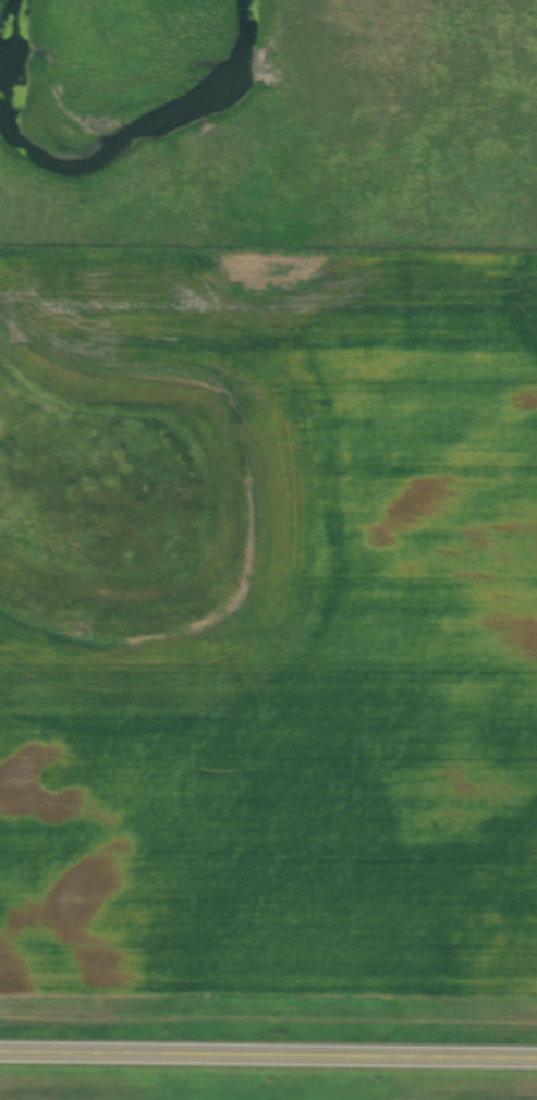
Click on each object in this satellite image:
road: (268, 1056)

